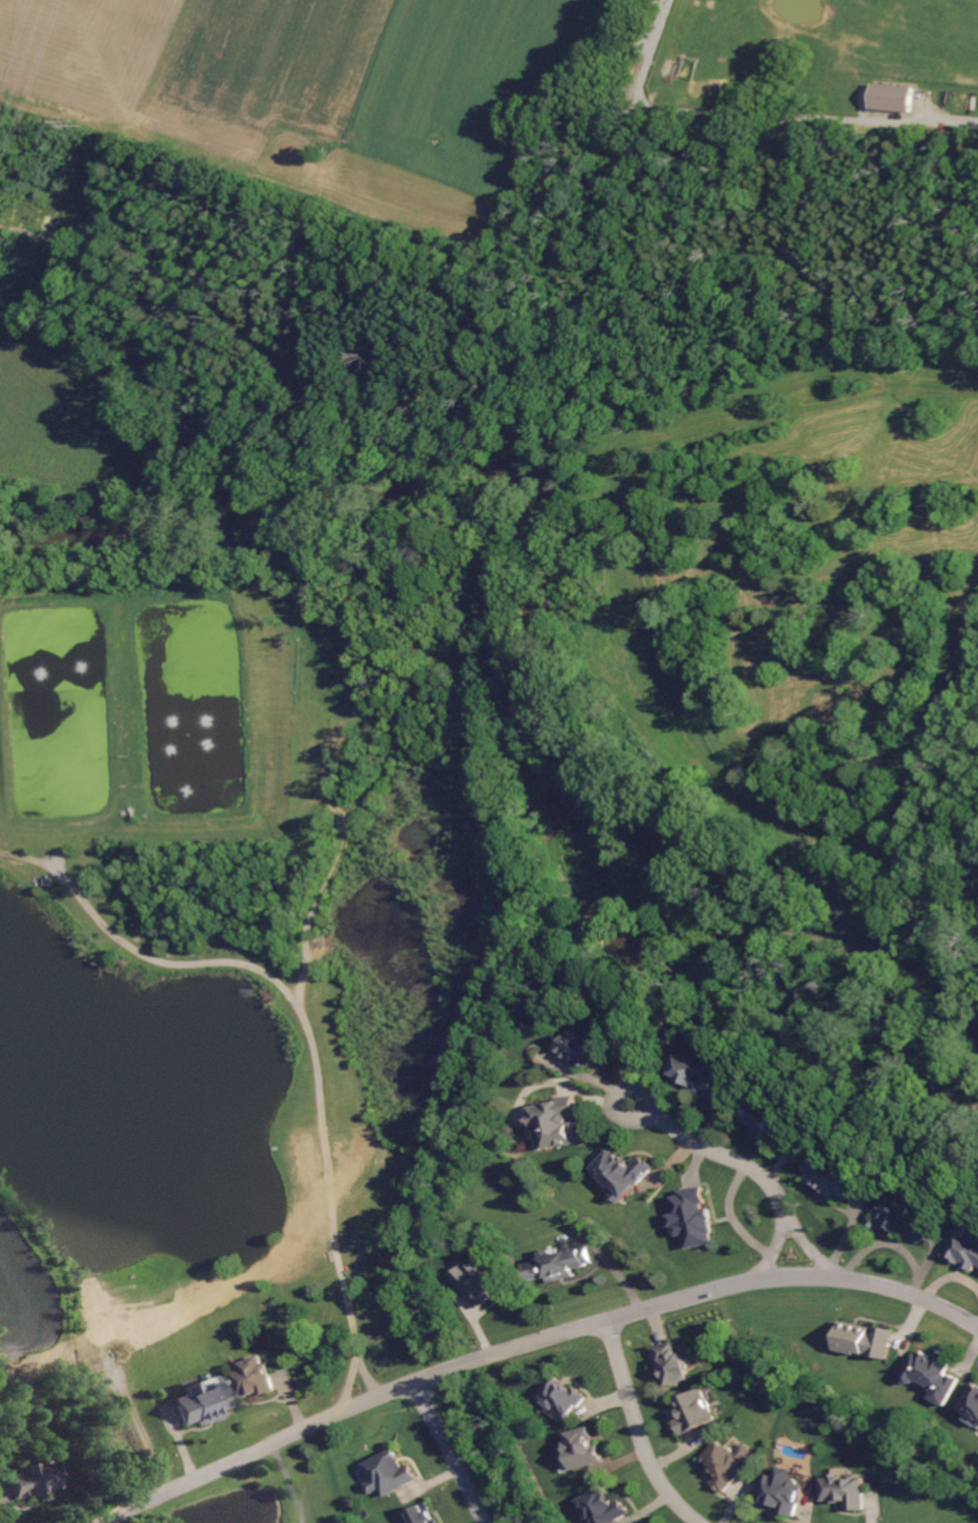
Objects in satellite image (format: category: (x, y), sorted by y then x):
building: (892, 96)
road: (755, 113)
river: (528, 653)
road: (308, 1033)
building: (583, 1047)
building: (697, 1070)
building: (768, 1118)
building: (551, 1122)
road: (747, 1167)
building: (620, 1172)
building: (832, 1173)
building: (691, 1217)
building: (902, 1218)
building: (964, 1246)
building: (558, 1263)
building: (481, 1275)
building: (863, 1338)
road: (534, 1344)
road: (353, 1360)
building: (670, 1363)
building: (932, 1374)
building: (253, 1377)
building: (559, 1396)
building: (194, 1401)
building: (971, 1403)
building: (692, 1410)
road: (636, 1430)
building: (584, 1444)
road: (453, 1454)
building: (725, 1462)
building: (388, 1472)
building: (29, 1475)
road: (289, 1482)
building: (843, 1489)
building: (780, 1491)
park: (282, 1501)
building: (604, 1505)
building: (420, 1515)

